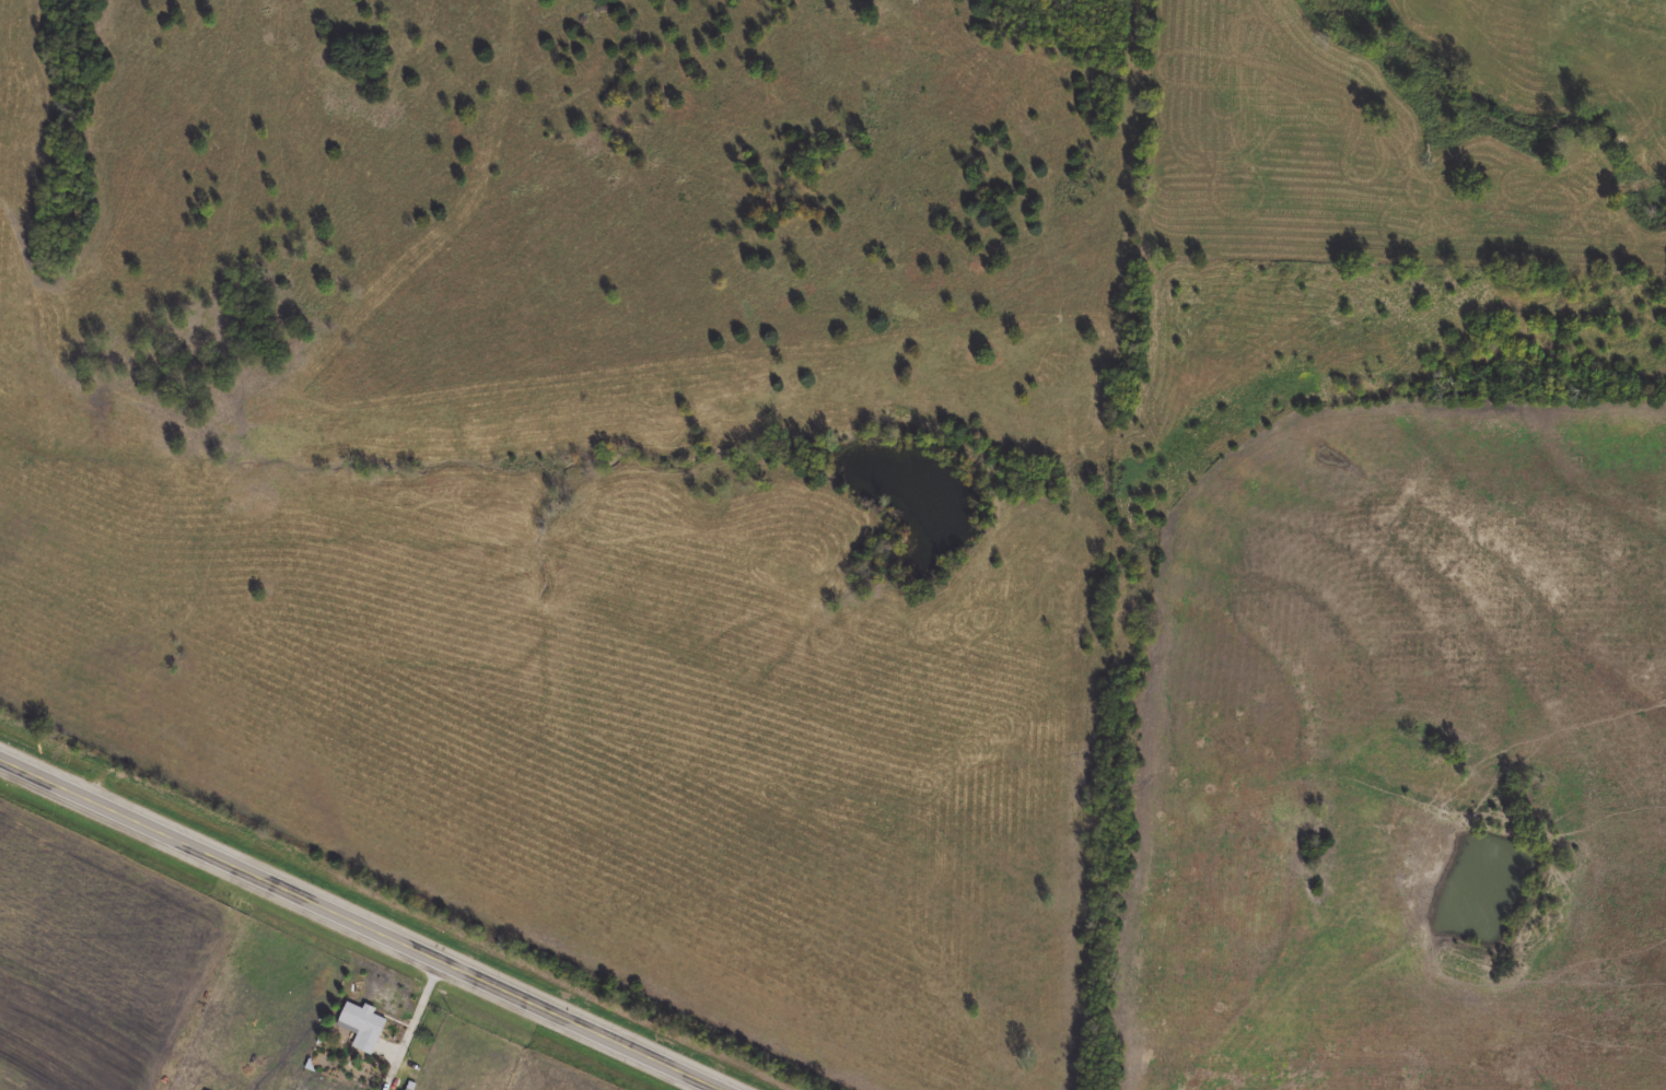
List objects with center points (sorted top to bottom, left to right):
railway: (389, 910)
road: (365, 922)
road: (423, 1008)
building: (365, 1027)

